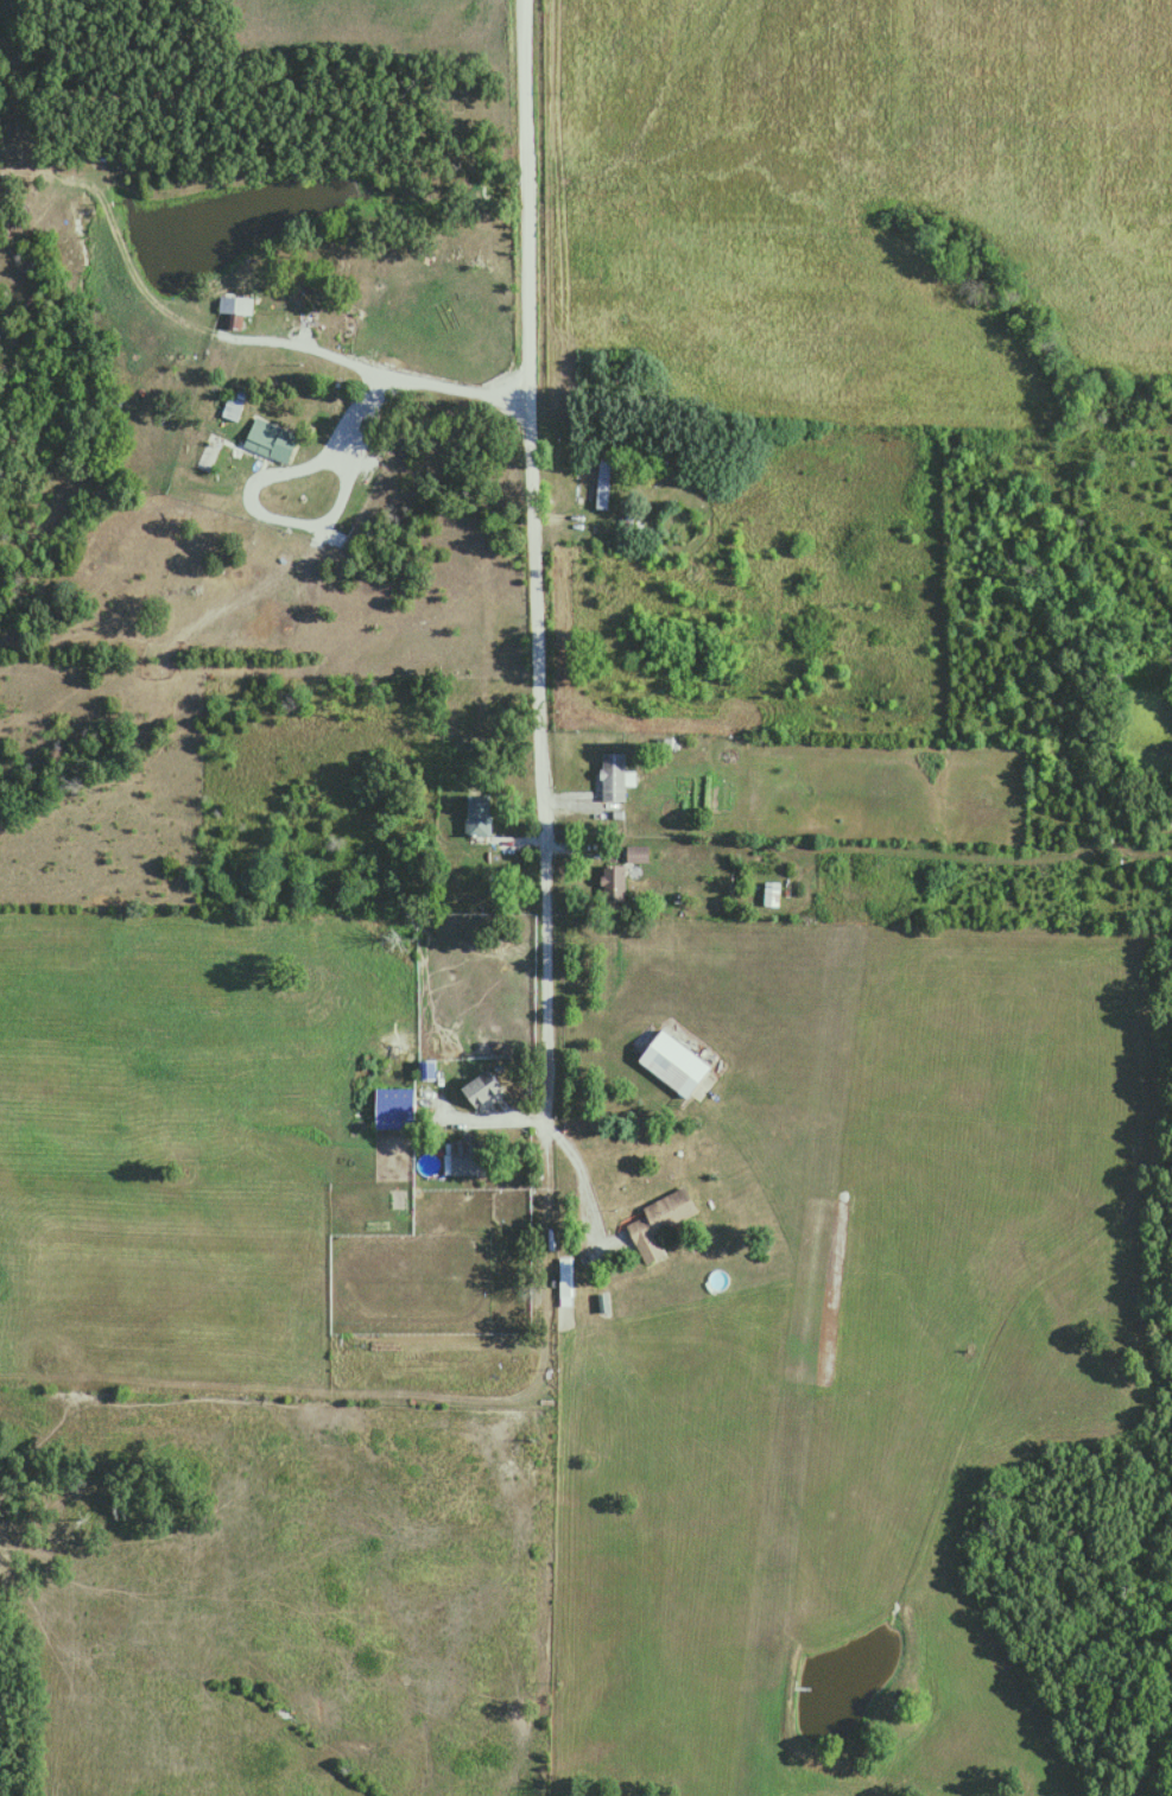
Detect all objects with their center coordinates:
building: (236, 306)
road: (374, 367)
building: (233, 404)
building: (271, 439)
building: (654, 464)
road: (534, 558)
building: (614, 775)
road: (608, 807)
building: (479, 813)
road: (490, 848)
building: (636, 852)
building: (613, 882)
building: (771, 895)
building: (674, 1061)
building: (481, 1087)
building: (394, 1106)
road: (484, 1115)
building: (465, 1155)
road: (581, 1173)
building: (659, 1220)
building: (564, 1280)
airport runway: (803, 1362)

